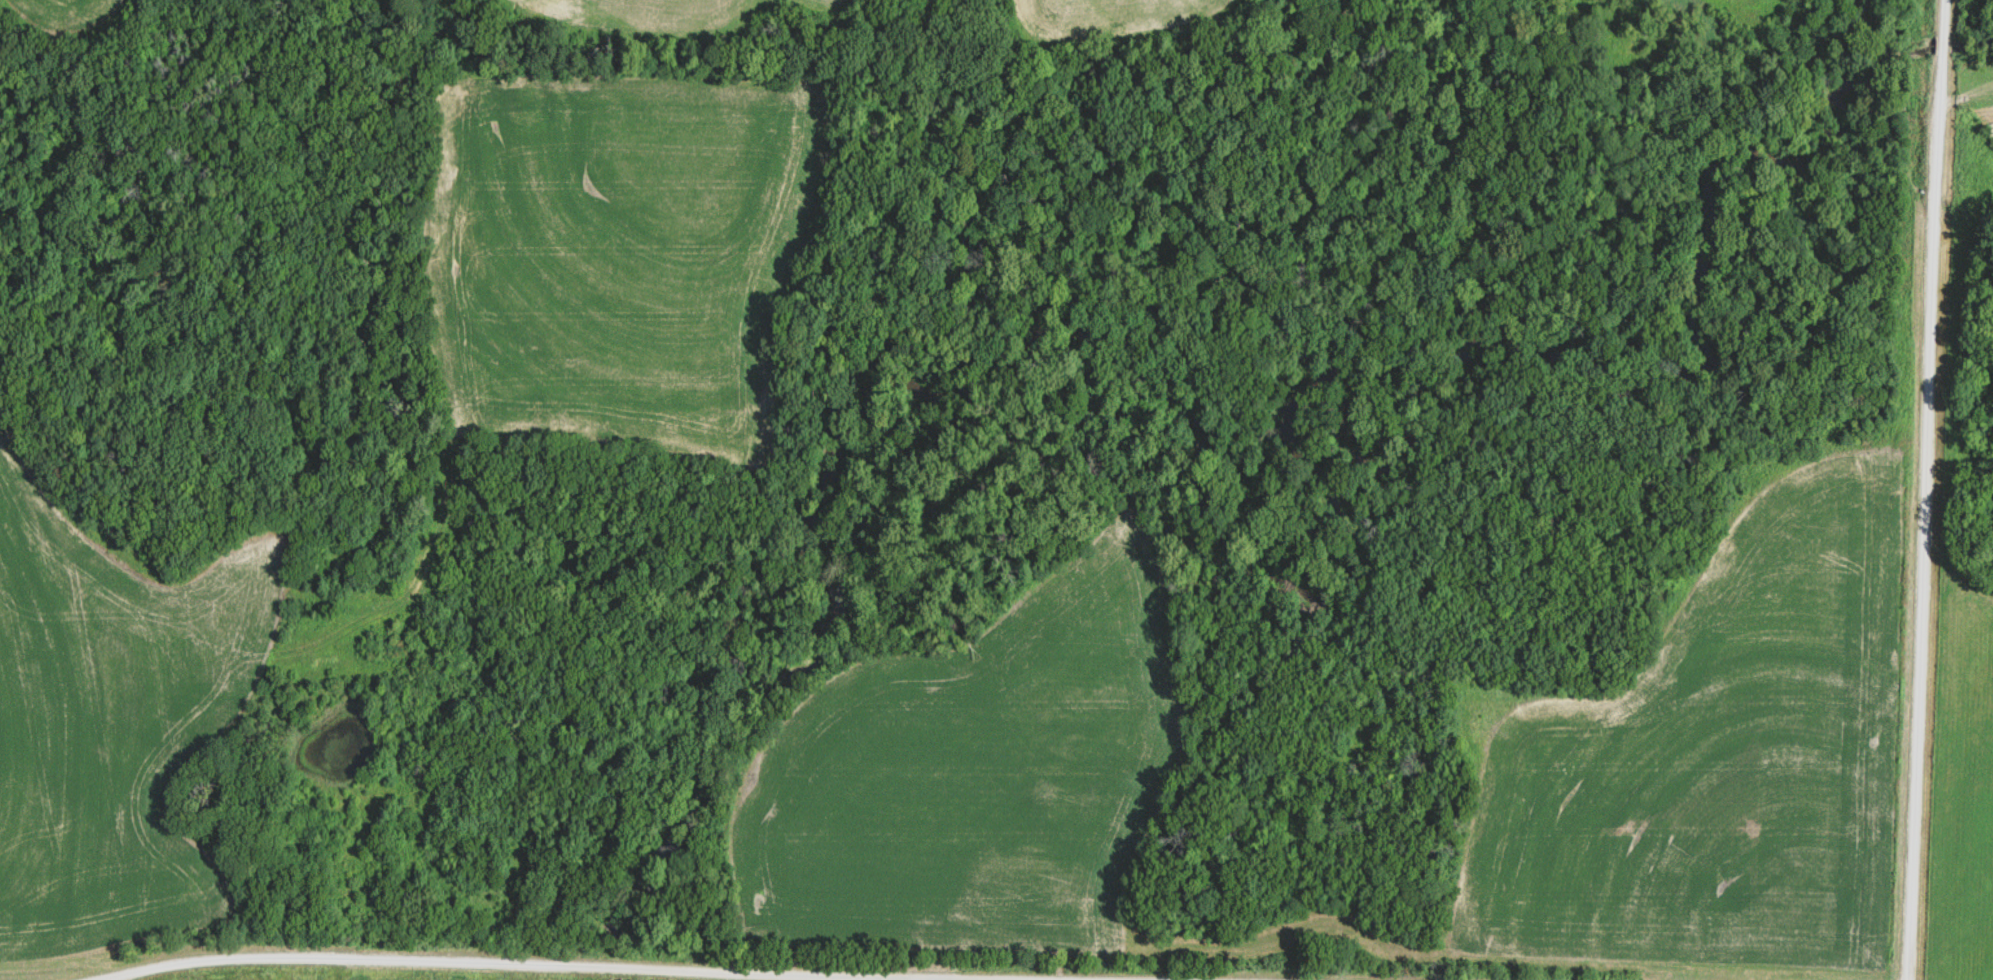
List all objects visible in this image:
road: (1927, 490)
road: (597, 964)

